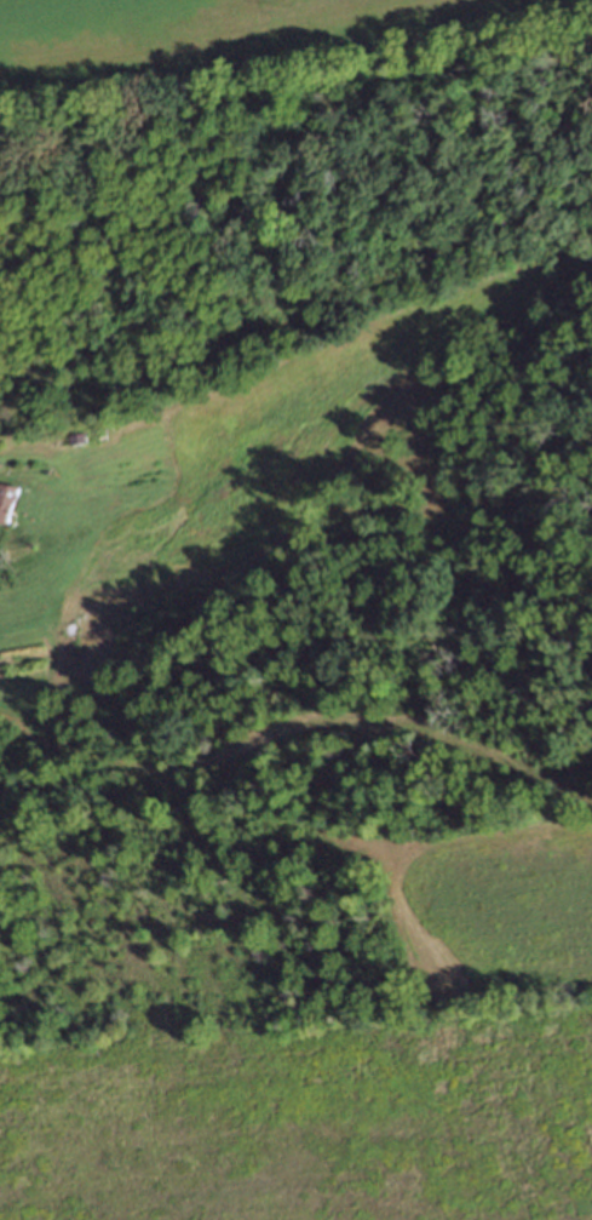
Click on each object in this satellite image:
building: (4, 499)

